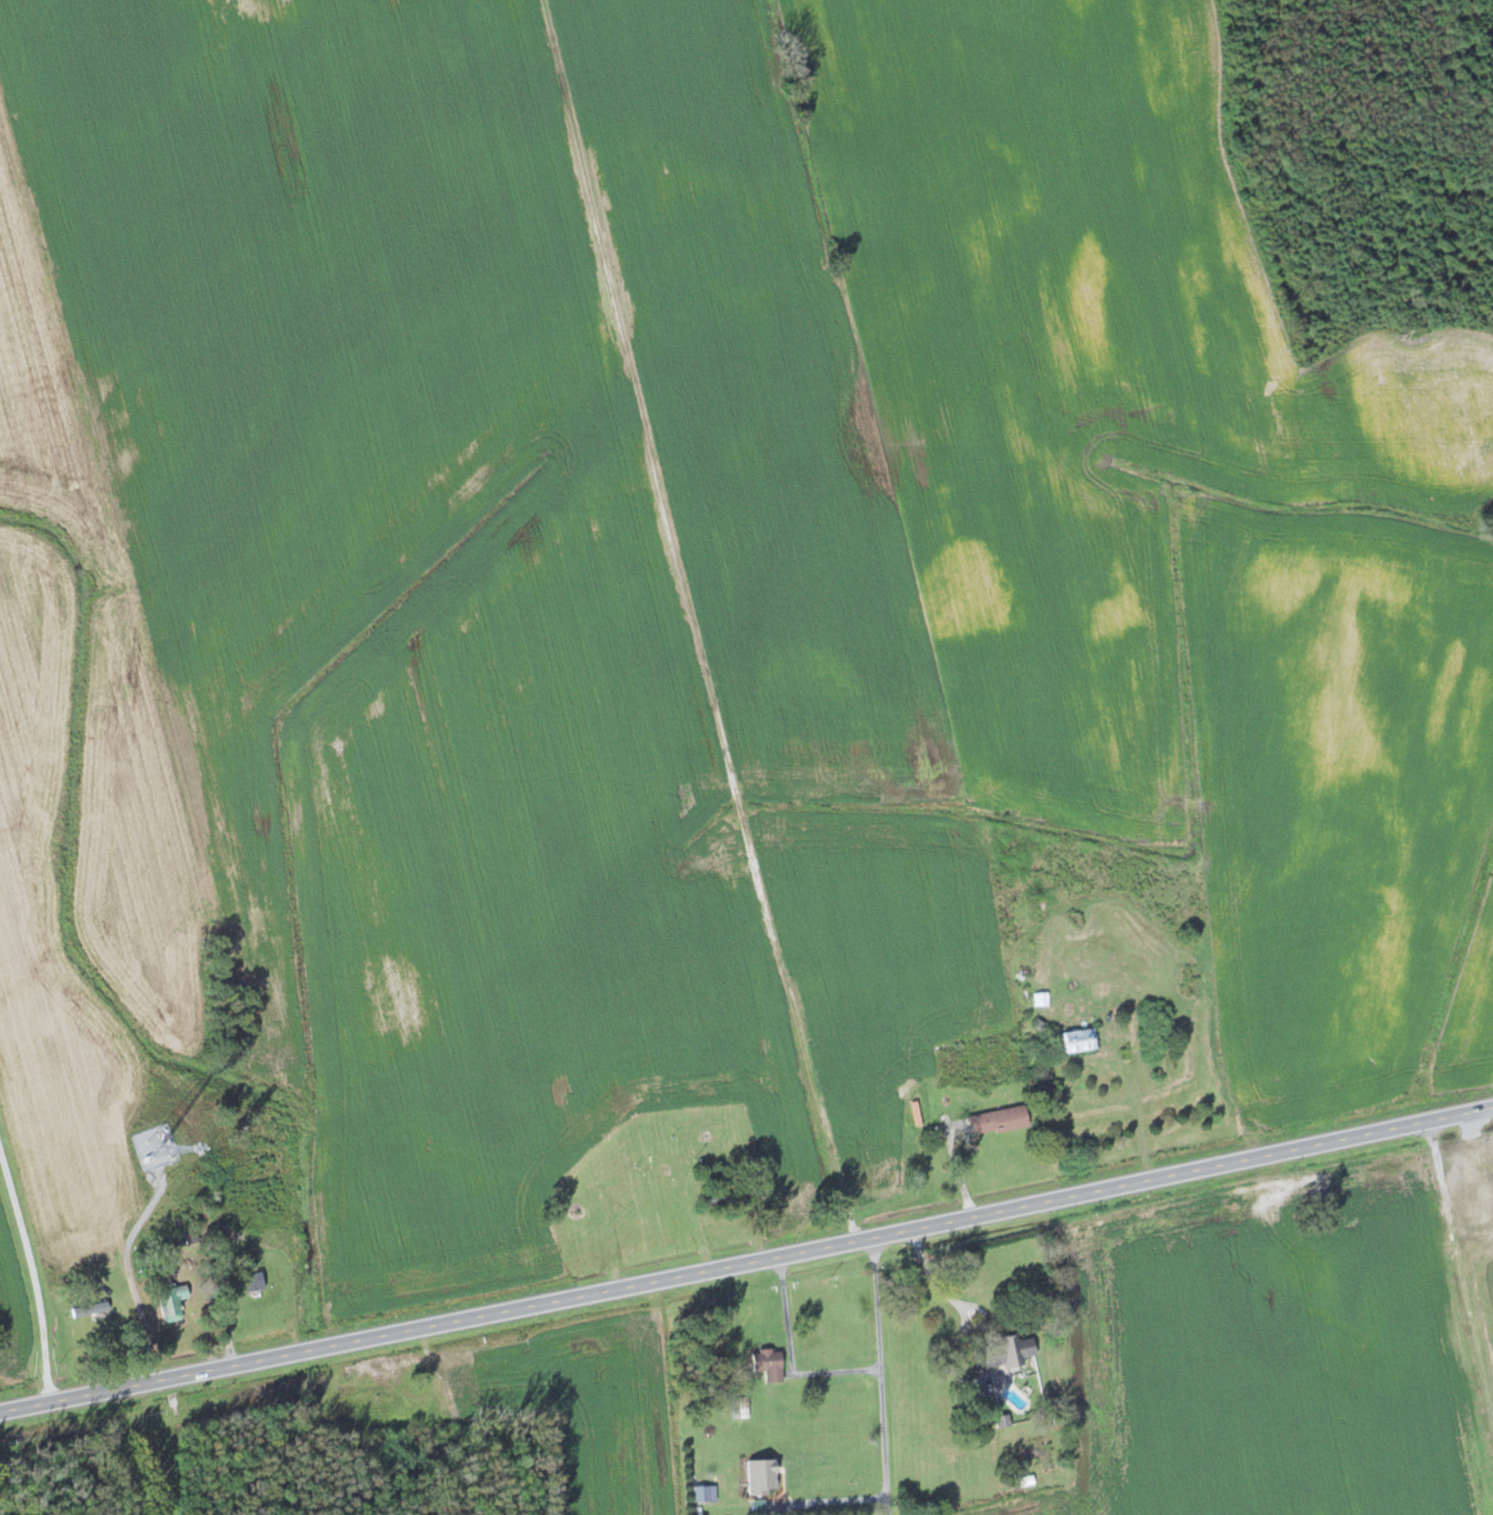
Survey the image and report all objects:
building: (1076, 1039)
building: (994, 1121)
building: (648, 1170)
road: (746, 1261)
road: (35, 1269)
building: (243, 1285)
building: (165, 1295)
road: (958, 1301)
building: (1000, 1352)
road: (792, 1355)
building: (765, 1364)
road: (883, 1375)
building: (731, 1479)
road: (804, 1499)

